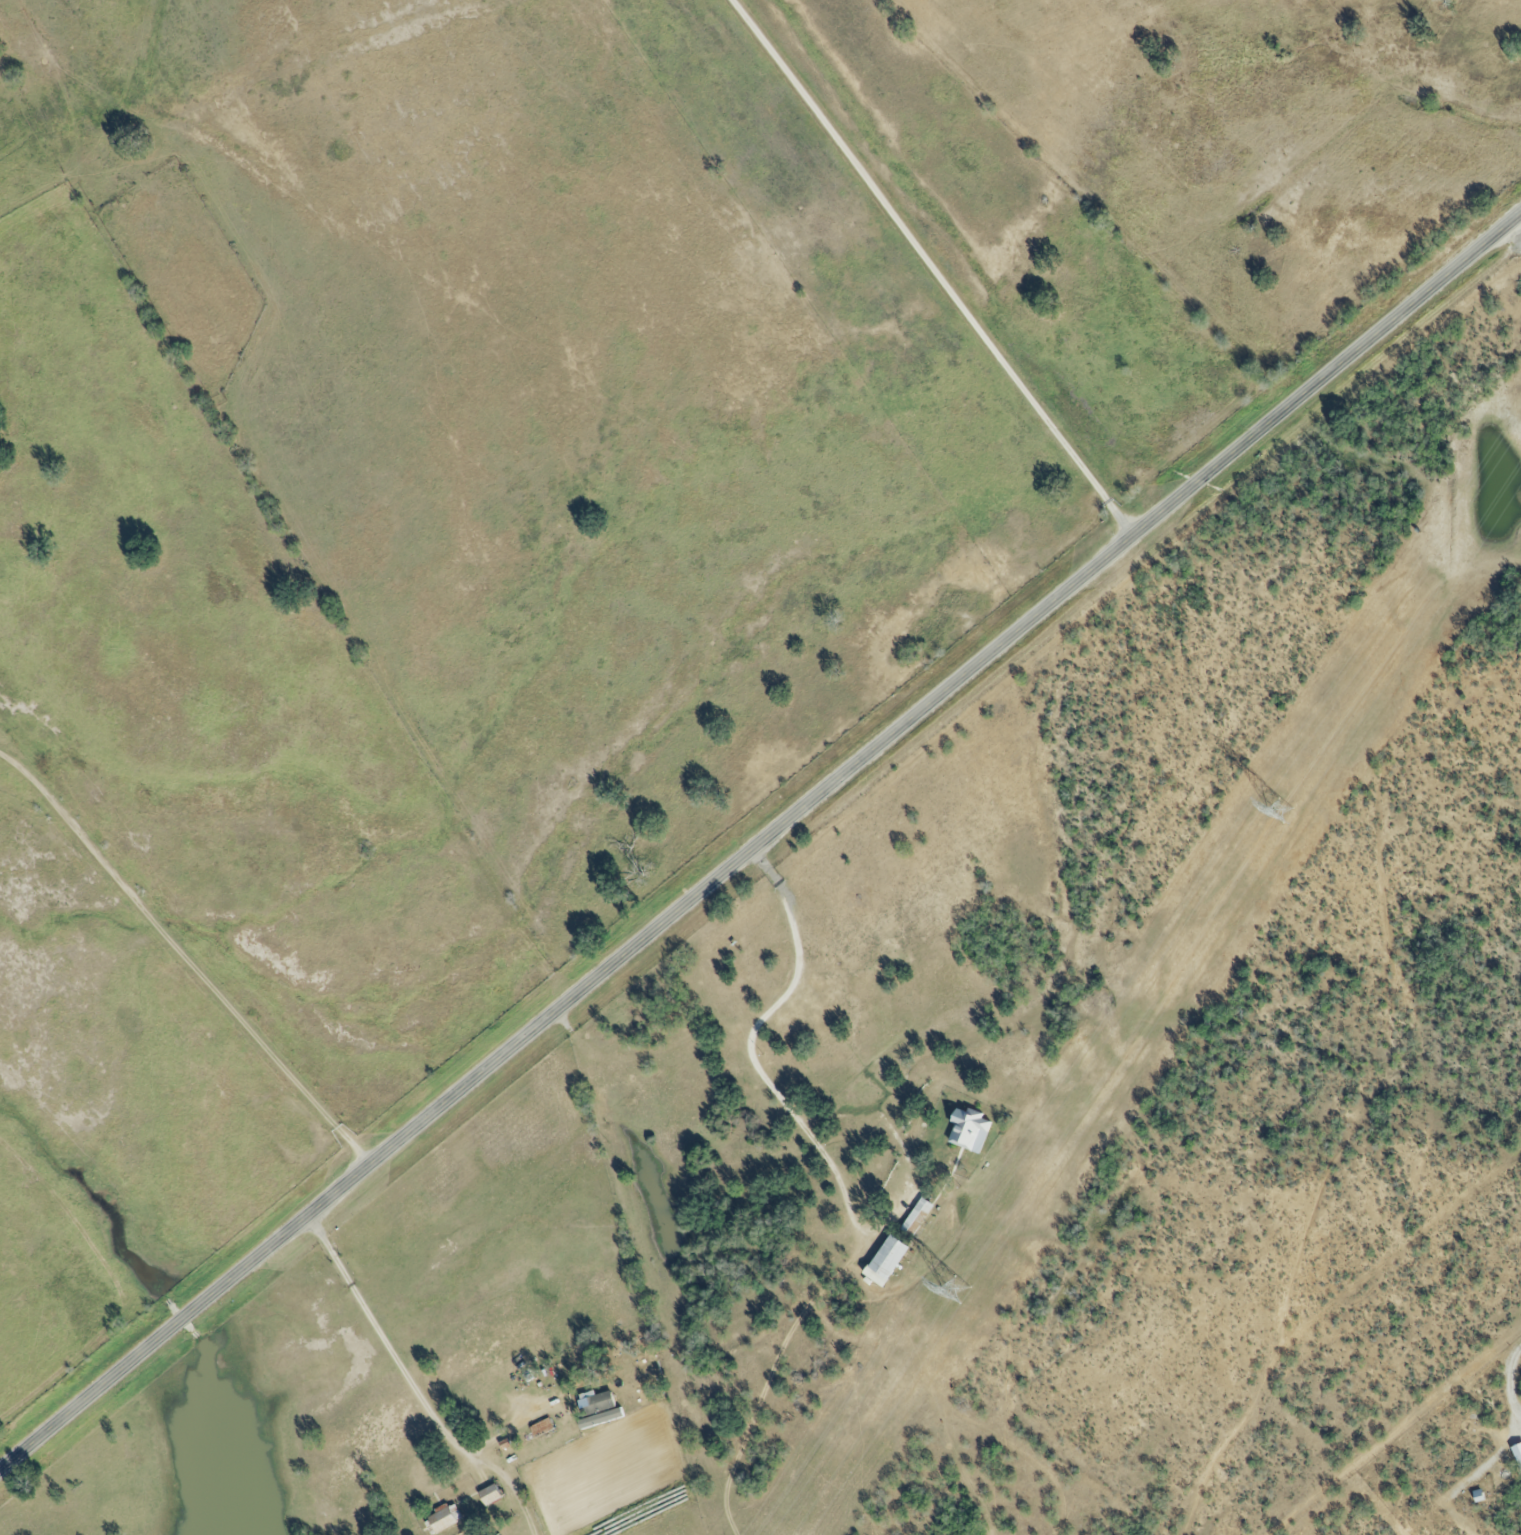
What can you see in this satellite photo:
road: (928, 268)
power tower: (1280, 812)
road: (759, 842)
road: (186, 956)
road: (747, 1041)
building: (966, 1130)
building: (915, 1219)
power tower: (956, 1291)
road: (409, 1385)
building: (595, 1405)
building: (540, 1429)
building: (489, 1496)
building: (441, 1521)

